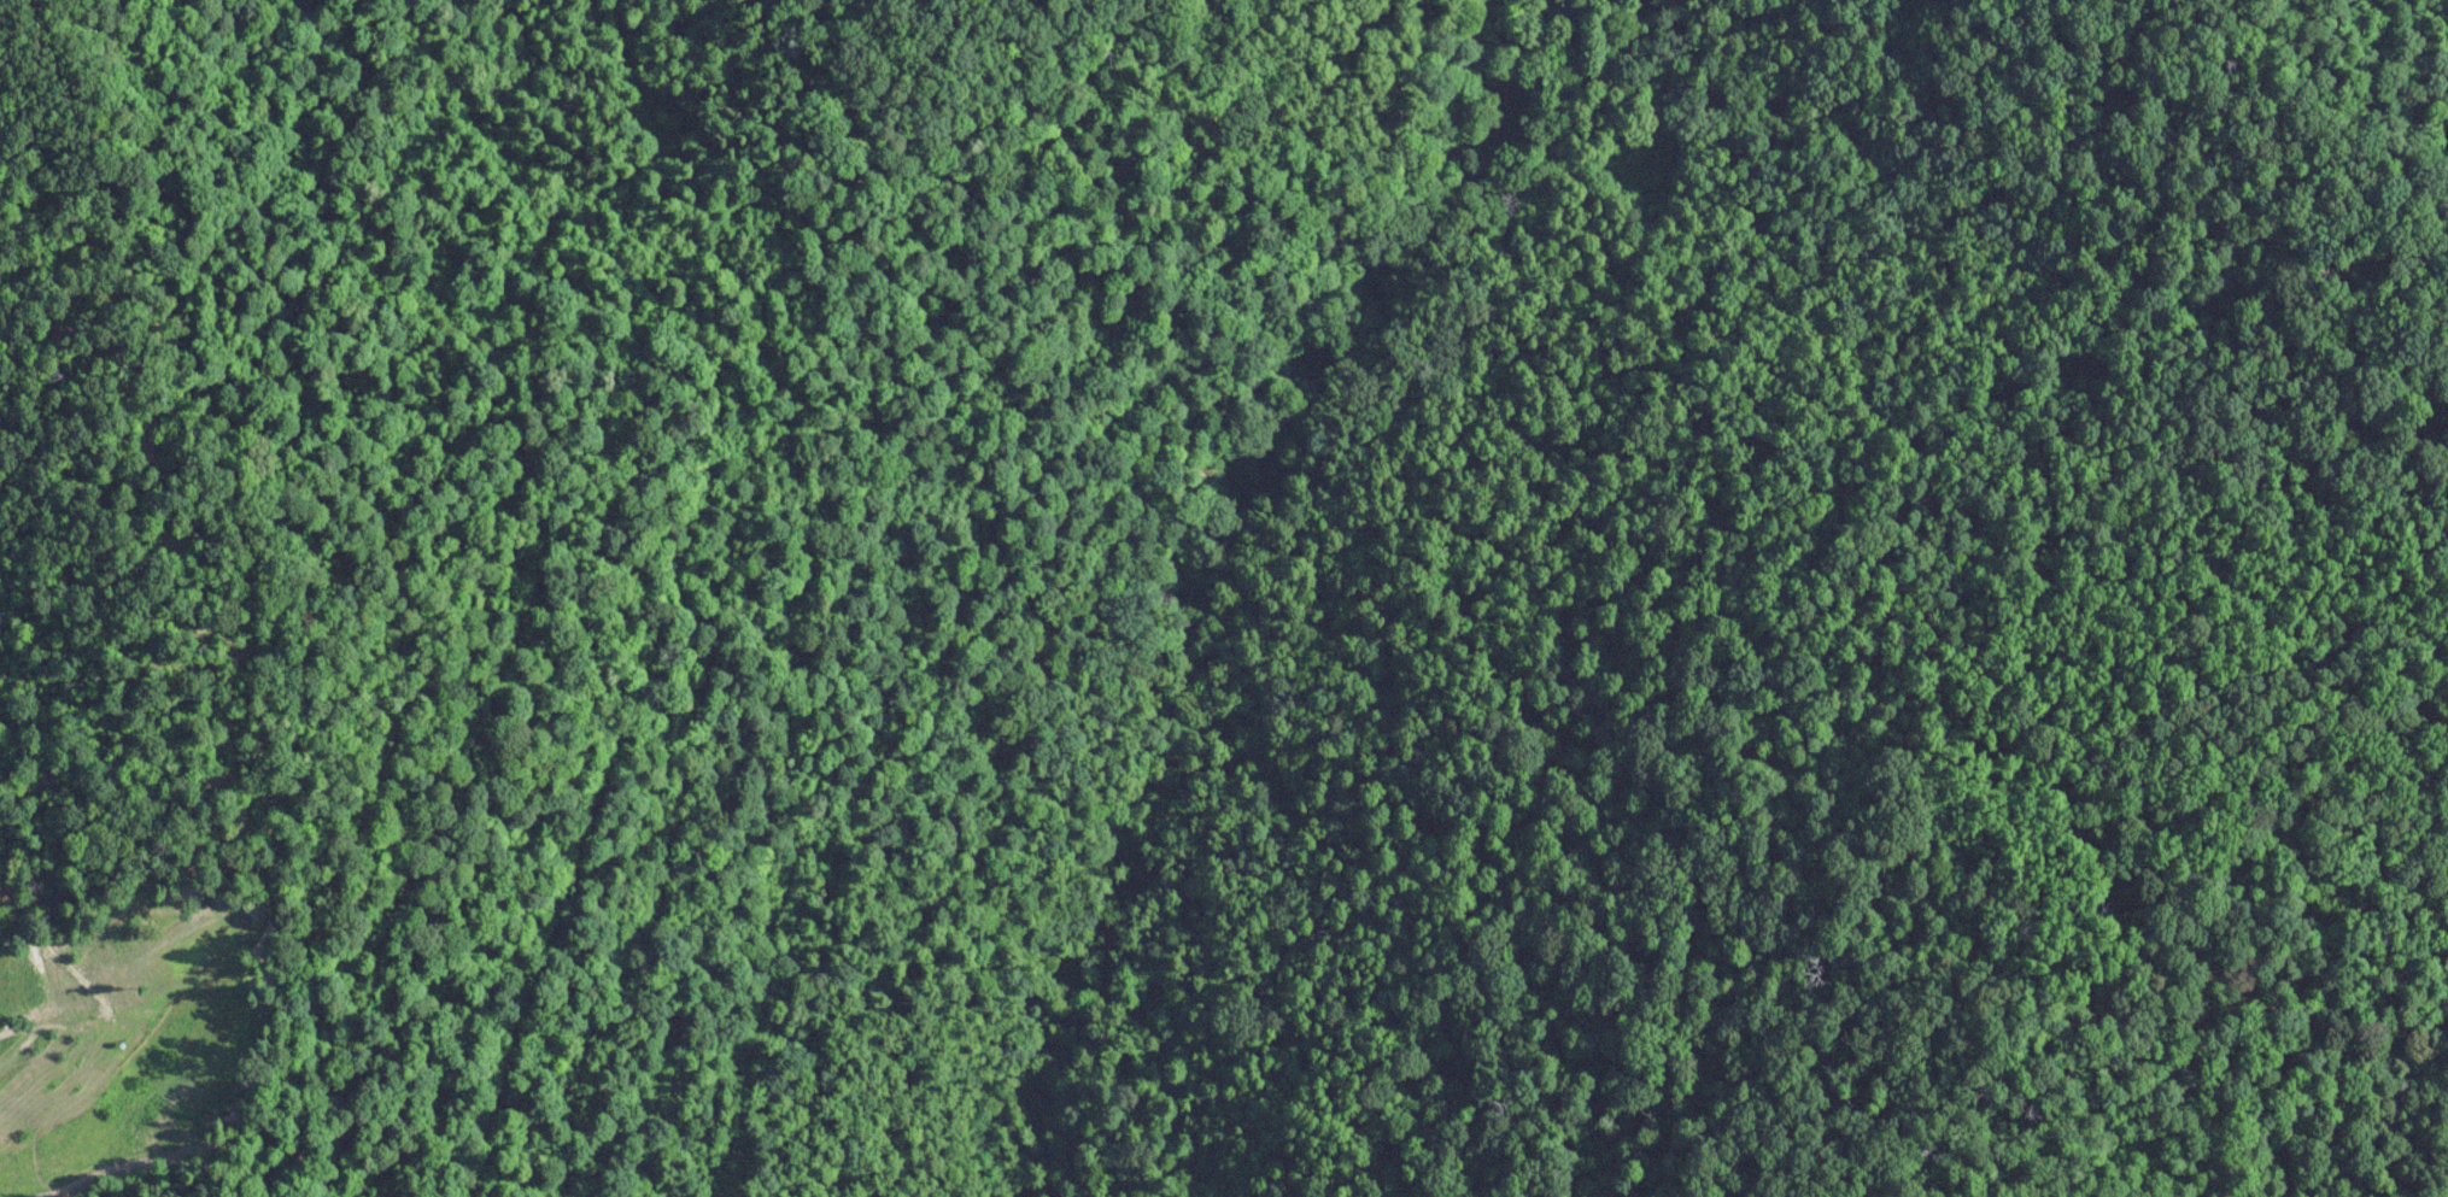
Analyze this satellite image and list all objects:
road: (1452, 294)

